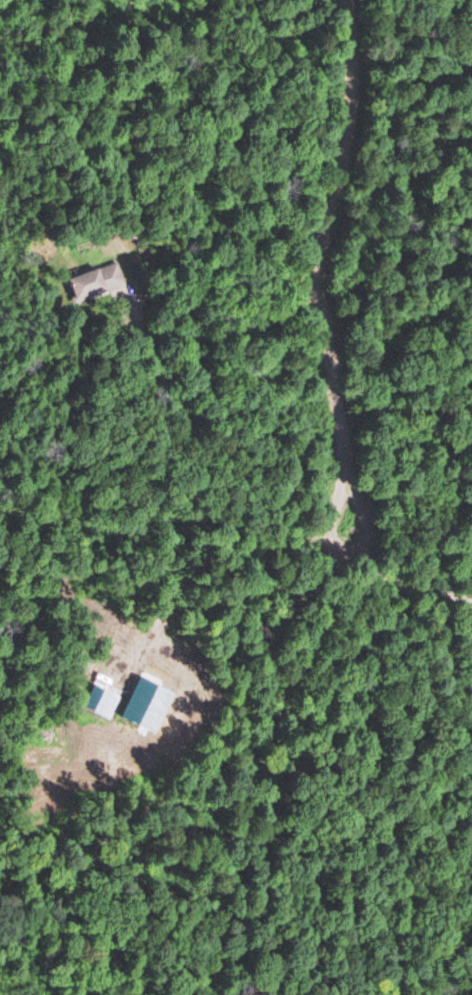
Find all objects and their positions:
road: (324, 238)
road: (355, 549)

